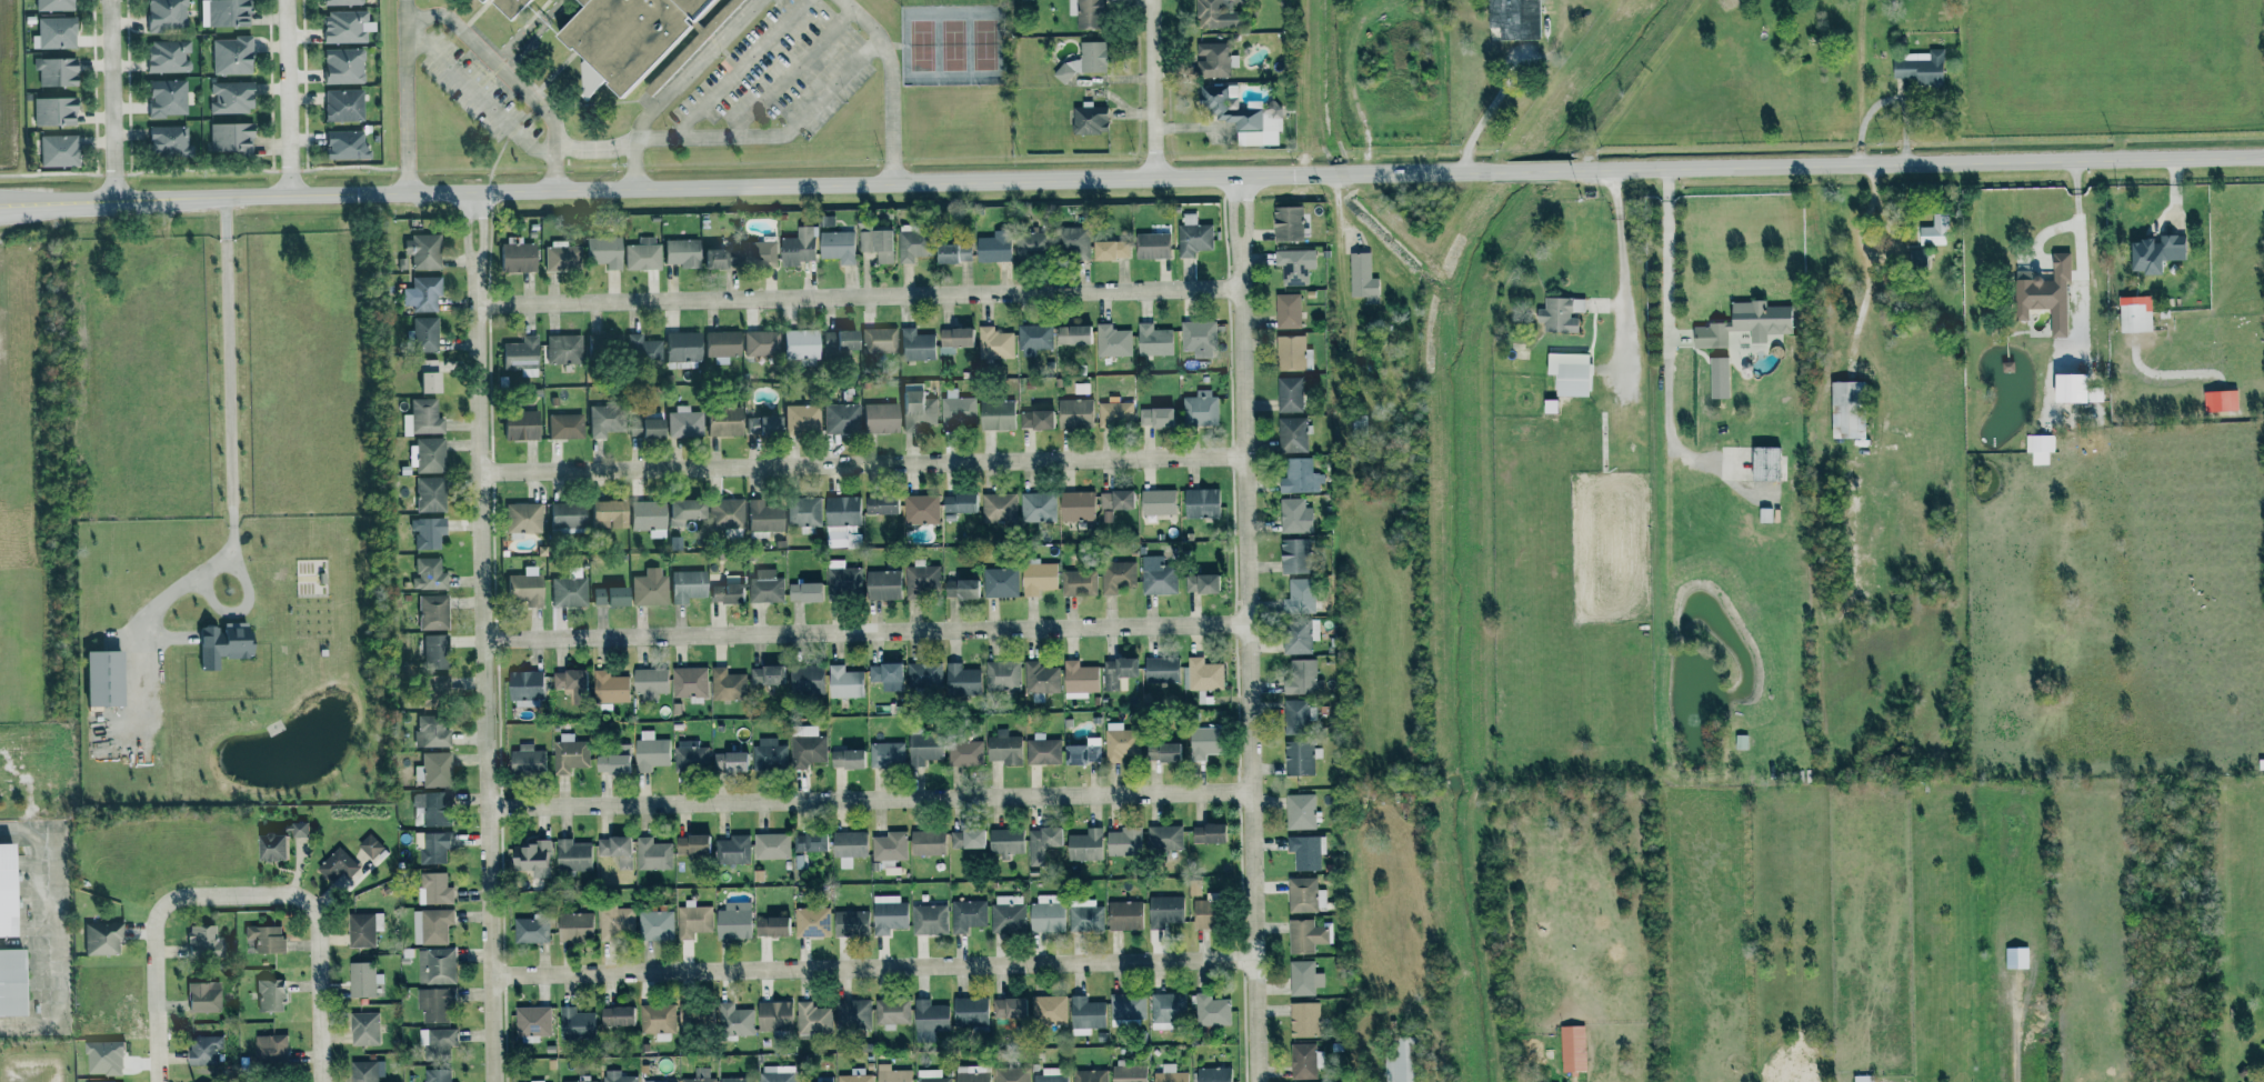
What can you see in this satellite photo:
building: (479, 0)
building: (339, 2)
building: (52, 4)
building: (507, 6)
road: (405, 10)
building: (226, 12)
building: (1086, 12)
building: (163, 14)
building: (1218, 14)
building: (1514, 19)
road: (452, 22)
building: (343, 27)
building: (52, 33)
building: (623, 34)
building: (229, 54)
building: (166, 56)
road: (885, 56)
building: (1084, 60)
building: (1212, 60)
building: (340, 66)
building: (1919, 67)
road: (741, 68)
road: (691, 70)
building: (53, 71)
road: (1158, 89)
building: (164, 97)
building: (229, 97)
road: (479, 97)
road: (289, 98)
road: (111, 100)
building: (341, 104)
building: (52, 110)
road: (1487, 110)
building: (1241, 116)
building: (1089, 119)
road: (778, 137)
building: (229, 139)
building: (166, 140)
building: (343, 144)
road: (595, 147)
building: (57, 150)
road: (892, 156)
road: (1914, 162)
road: (408, 164)
road: (554, 168)
road: (637, 168)
road: (1527, 171)
road: (744, 186)
road: (2080, 210)
building: (827, 221)
building: (1288, 223)
building: (1933, 231)
road: (1620, 234)
building: (1193, 236)
building: (1072, 240)
building: (1029, 242)
building: (911, 243)
building: (876, 244)
building: (837, 246)
building: (1152, 246)
building: (797, 248)
building: (991, 249)
building: (1121, 249)
building: (1103, 250)
road: (1889, 250)
building: (421, 251)
building: (601, 251)
building: (679, 252)
building: (952, 252)
building: (2154, 252)
building: (641, 253)
building: (758, 254)
building: (515, 257)
building: (559, 257)
building: (1916, 257)
building: (711, 259)
building: (1295, 266)
building: (1362, 278)
building: (422, 293)
building: (2044, 294)
road: (860, 295)
building: (1288, 311)
building: (1560, 313)
building: (2135, 314)
building: (1741, 323)
building: (421, 334)
building: (1072, 334)
building: (954, 337)
building: (1034, 337)
building: (1112, 338)
building: (1199, 338)
building: (876, 340)
building: (1152, 340)
building: (610, 342)
building: (837, 342)
building: (760, 343)
building: (799, 343)
building: (994, 343)
building: (721, 344)
building: (914, 344)
building: (563, 349)
building: (642, 350)
building: (1291, 352)
building: (520, 354)
road: (1667, 360)
building: (1567, 373)
building: (425, 375)
building: (1289, 394)
building: (2221, 400)
building: (916, 409)
building: (1200, 409)
building: (958, 411)
building: (1846, 411)
building: (1075, 413)
building: (1115, 413)
building: (996, 414)
building: (1155, 417)
building: (421, 418)
building: (840, 418)
building: (878, 418)
building: (722, 419)
building: (801, 419)
building: (1035, 419)
building: (599, 420)
building: (683, 422)
building: (519, 424)
building: (761, 424)
building: (564, 425)
building: (631, 427)
building: (648, 428)
building: (1292, 434)
building: (2040, 448)
building: (427, 454)
road: (230, 458)
road: (863, 459)
building: (1764, 463)
building: (1299, 477)
building: (427, 494)
building: (1116, 500)
building: (959, 502)
building: (1158, 502)
building: (1201, 503)
building: (880, 504)
building: (1076, 505)
building: (1000, 507)
building: (1039, 507)
building: (682, 509)
building: (921, 509)
building: (803, 511)
building: (841, 511)
building: (724, 512)
building: (1765, 513)
building: (604, 514)
building: (564, 515)
building: (1293, 515)
building: (647, 517)
building: (762, 518)
building: (521, 519)
building: (425, 532)
building: (1293, 555)
building: (428, 574)
building: (1038, 577)
building: (1118, 577)
building: (1158, 577)
building: (921, 579)
building: (843, 581)
building: (1001, 582)
building: (1079, 582)
building: (1200, 583)
building: (685, 585)
building: (882, 585)
building: (765, 587)
building: (522, 589)
building: (960, 589)
building: (648, 590)
building: (568, 591)
building: (803, 592)
building: (724, 593)
building: (607, 595)
building: (1300, 597)
road: (241, 607)
building: (431, 612)
road: (1246, 629)
road: (866, 631)
building: (1299, 635)
road: (487, 637)
building: (221, 643)
building: (434, 652)
building: (1161, 670)
building: (1119, 673)
building: (1202, 674)
building: (765, 675)
building: (883, 675)
building: (922, 675)
building: (1002, 675)
building: (1079, 678)
building: (1302, 678)
building: (99, 679)
building: (804, 679)
building: (961, 680)
building: (1041, 680)
building: (569, 681)
building: (649, 682)
building: (689, 682)
building: (843, 682)
building: (727, 684)
building: (524, 685)
building: (433, 688)
building: (609, 688)
building: (1298, 717)
building: (430, 732)
building: (1121, 742)
building: (1204, 742)
building: (1741, 742)
building: (805, 747)
building: (923, 749)
building: (1003, 749)
building: (1042, 750)
building: (570, 752)
building: (649, 752)
building: (1083, 752)
building: (1162, 752)
building: (964, 753)
building: (768, 754)
building: (885, 755)
building: (691, 758)
building: (1299, 758)
building: (525, 760)
building: (845, 760)
building: (613, 762)
building: (728, 762)
building: (434, 770)
road: (871, 799)
building: (429, 808)
building: (1300, 811)
building: (292, 828)
building: (1208, 833)
building: (1164, 838)
building: (966, 839)
building: (809, 841)
building: (1004, 841)
building: (925, 842)
building: (1041, 842)
building: (1123, 842)
building: (690, 843)
building: (269, 845)
building: (370, 845)
building: (431, 845)
building: (771, 845)
building: (848, 845)
building: (1085, 845)
building: (614, 848)
building: (732, 849)
building: (1306, 851)
building: (652, 852)
building: (529, 854)
building: (571, 854)
building: (337, 864)
building: (6, 889)
building: (434, 889)
building: (1302, 894)
building: (1164, 910)
building: (886, 913)
building: (1045, 913)
building: (1204, 913)
building: (968, 914)
building: (1008, 914)
building: (1124, 914)
building: (1084, 916)
building: (692, 919)
building: (929, 919)
building: (615, 920)
building: (733, 921)
building: (811, 921)
building: (850, 922)
building: (431, 925)
building: (573, 925)
building: (654, 925)
building: (362, 928)
building: (530, 929)
building: (1304, 935)
building: (199, 936)
building: (264, 936)
building: (100, 938)
road: (317, 952)
road: (154, 956)
road: (874, 963)
building: (435, 965)
building: (10, 978)
building: (1303, 978)
building: (362, 979)
building: (269, 994)
building: (202, 996)
building: (434, 1004)
building: (1126, 1006)
building: (1048, 1009)
building: (1166, 1009)
building: (1008, 1010)
building: (1211, 1010)
building: (891, 1012)
building: (852, 1013)
building: (969, 1013)
building: (694, 1014)
building: (773, 1014)
building: (1085, 1014)
building: (615, 1015)
building: (812, 1018)
building: (928, 1018)
building: (1303, 1019)
building: (657, 1020)
building: (733, 1020)
building: (532, 1021)
building: (575, 1021)
building: (363, 1028)
building: (438, 1039)
building: (269, 1048)
building: (203, 1049)
building: (1573, 1049)
building: (1400, 1060)
building: (1302, 1061)
building: (365, 1070)
building: (775, 1073)
building: (972, 1073)
building: (1128, 1073)
building: (435, 1074)
building: (892, 1074)
building: (1011, 1074)
building: (1051, 1074)
building: (1169, 1074)
building: (1212, 1074)
building: (700, 1075)
building: (855, 1075)
building: (931, 1075)
building: (1089, 1075)
building: (617, 1076)
building: (1862, 1078)
building: (735, 1079)
building: (541, 1081)
building: (575, 1081)

